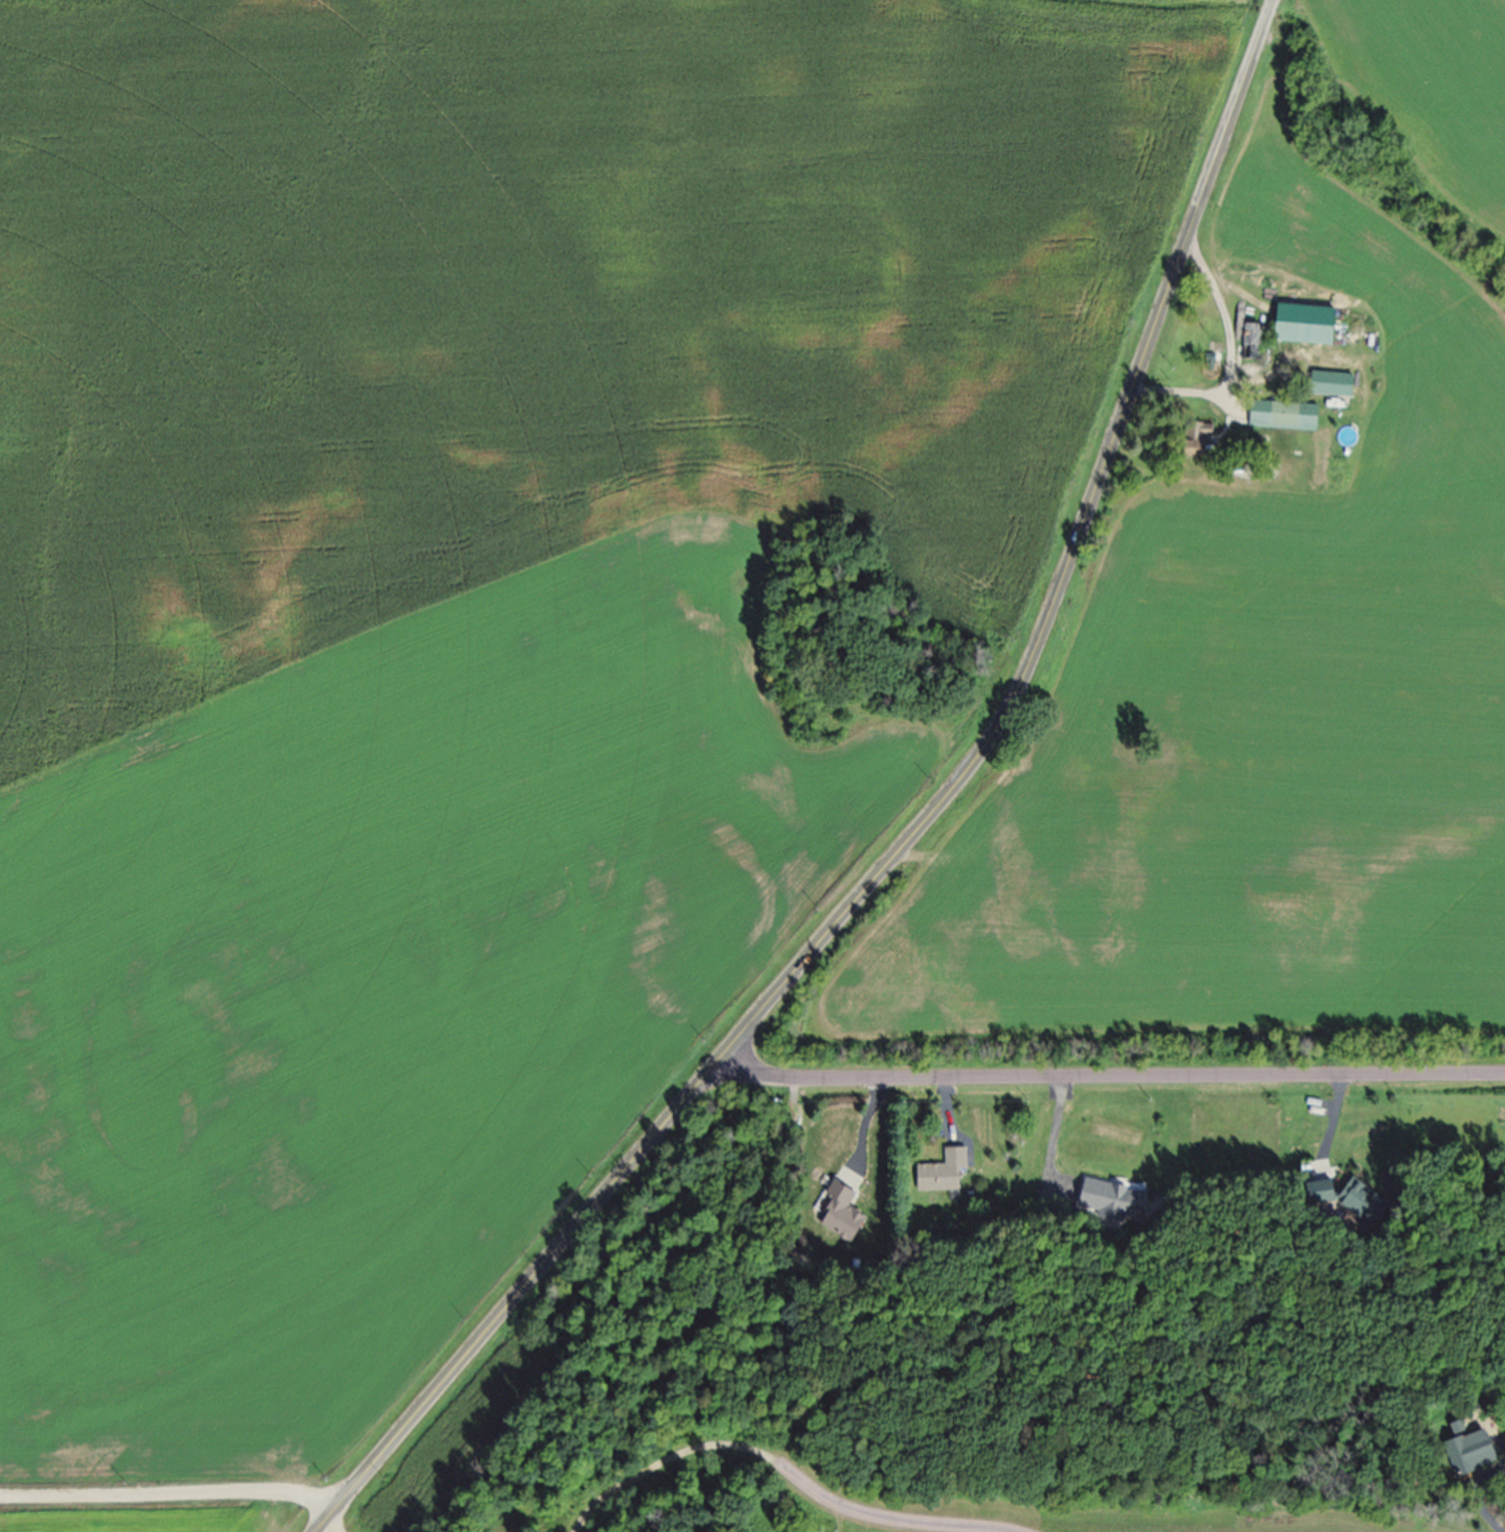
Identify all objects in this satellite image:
building: (1302, 327)
building: (1253, 345)
road: (1228, 352)
building: (1281, 417)
building: (1194, 443)
road: (912, 835)
road: (1111, 1076)
road: (861, 1129)
road: (1051, 1137)
building: (941, 1175)
building: (1318, 1195)
building: (1111, 1200)
building: (840, 1217)
building: (1469, 1453)
crop: (448, 1454)
road: (173, 1497)
road: (1480, 1505)
road: (856, 1509)

